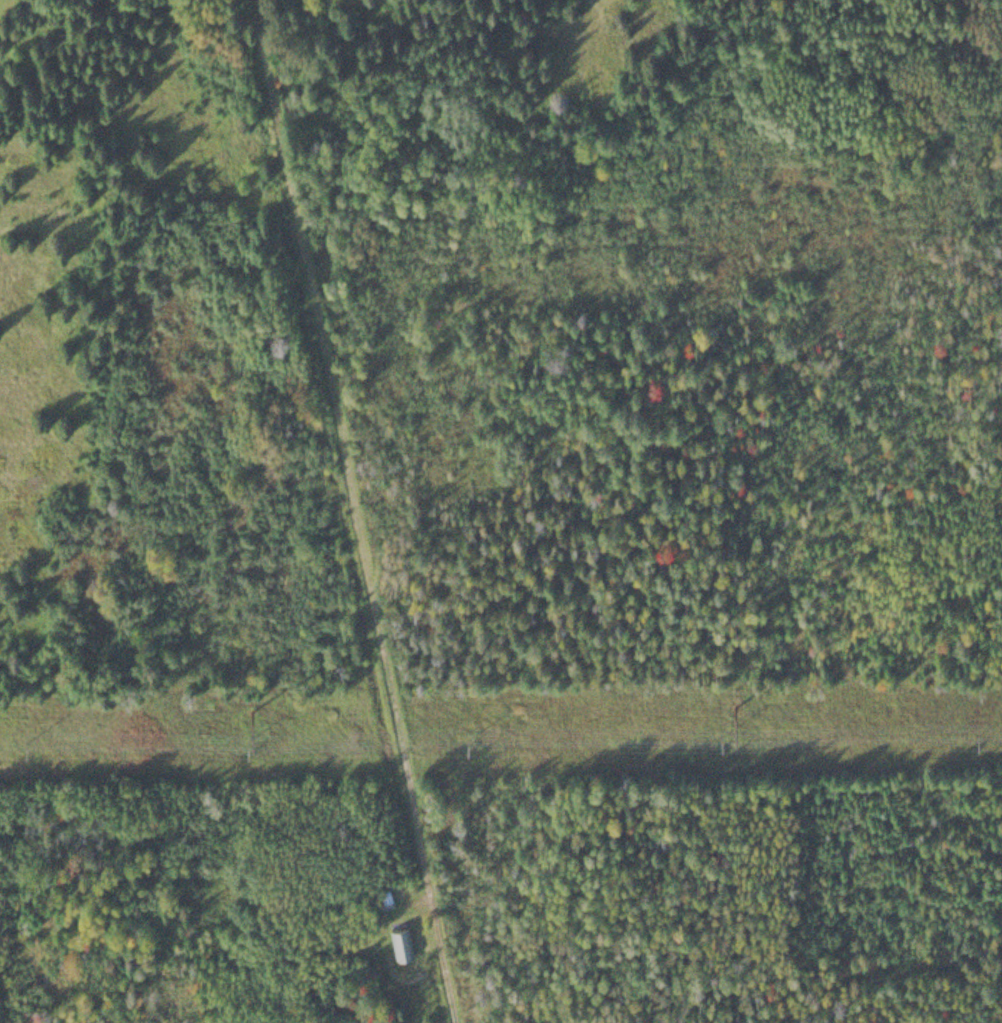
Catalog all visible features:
road: (356, 511)
power tower: (714, 700)
power tower: (250, 702)
building: (399, 938)

